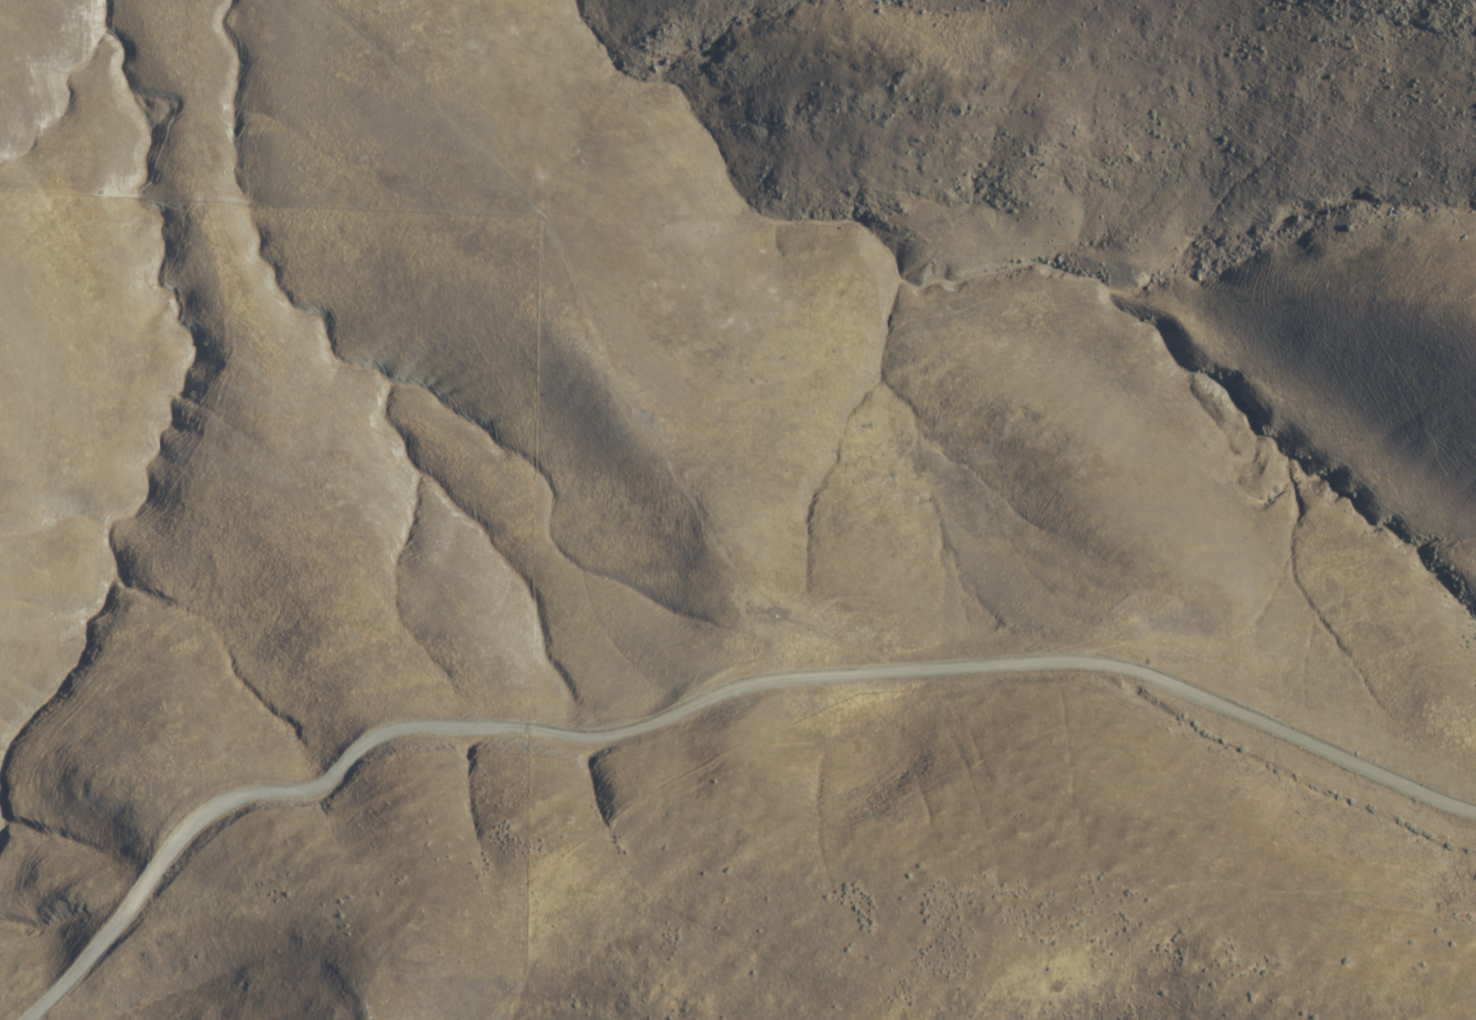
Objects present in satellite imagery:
road: (689, 705)

